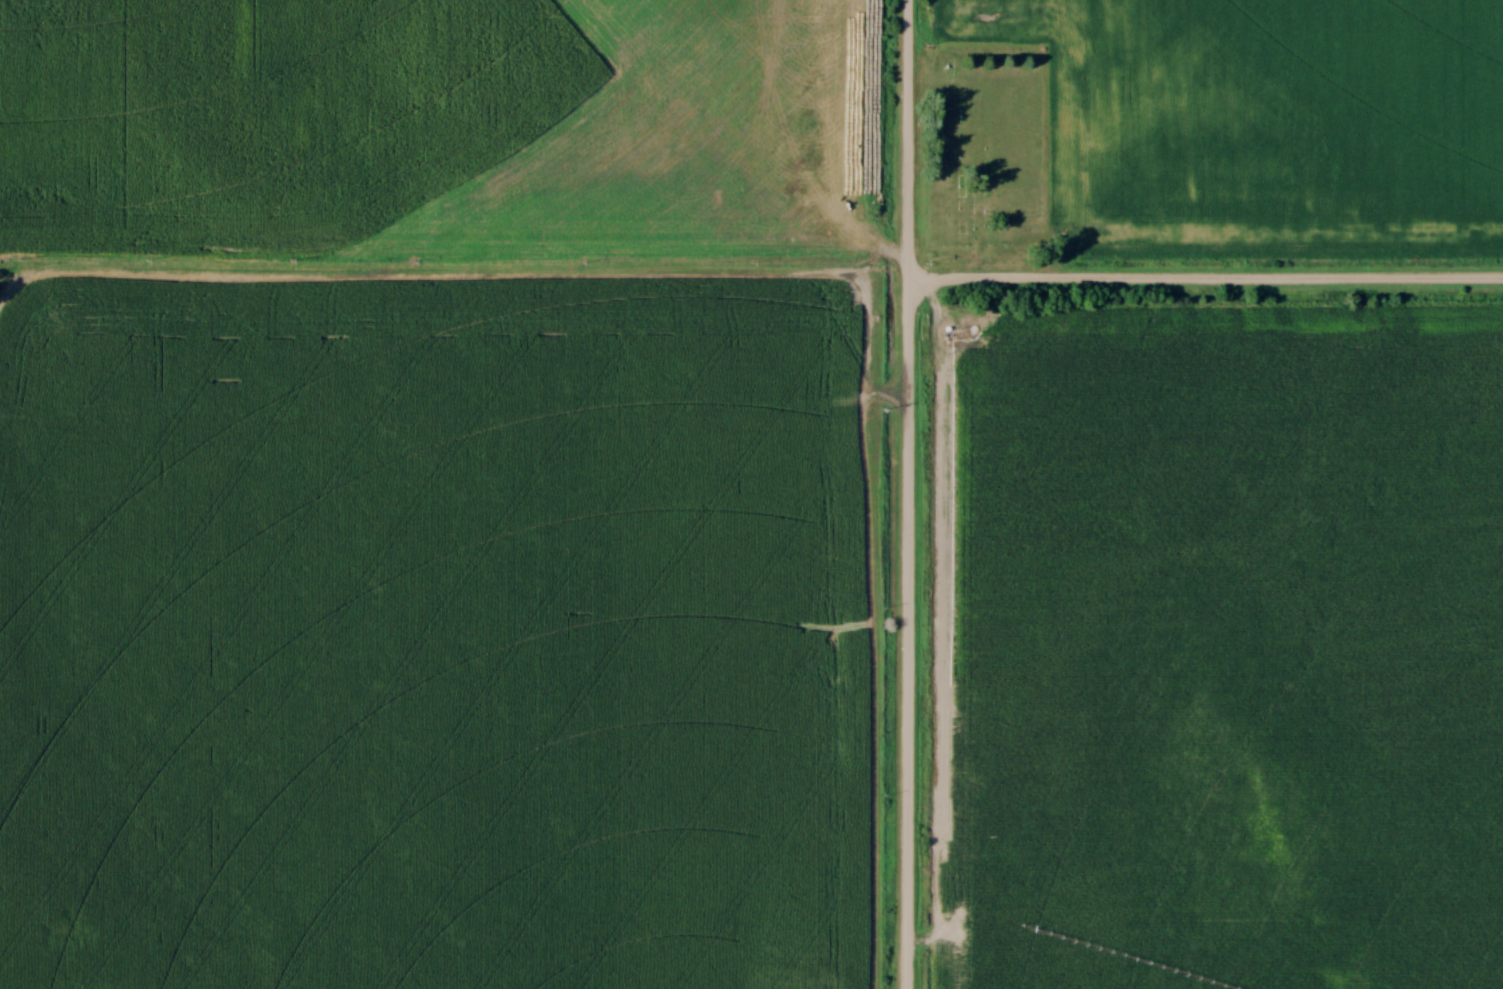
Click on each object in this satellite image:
park: (995, 141)
road: (1205, 281)
road: (454, 415)
road: (907, 494)

